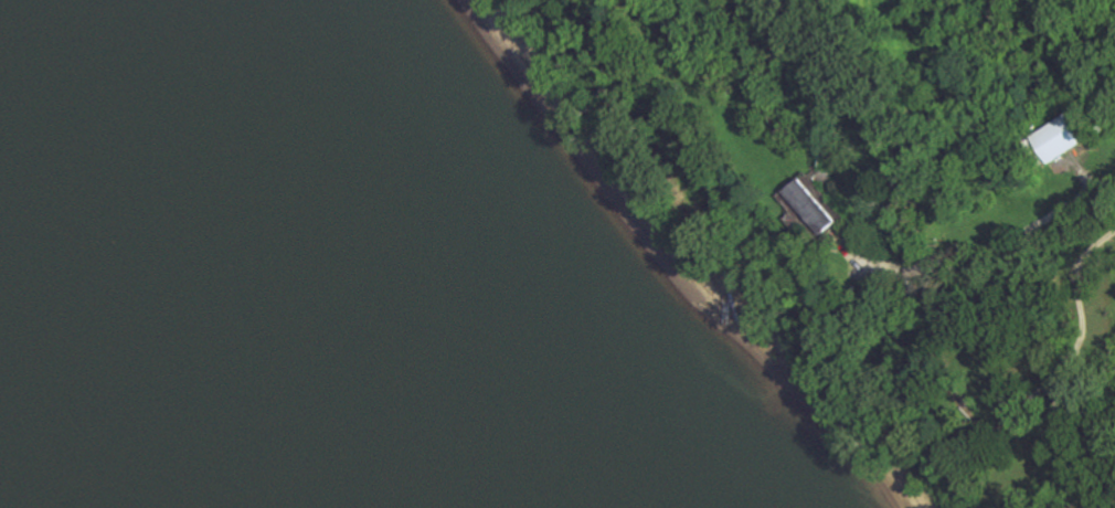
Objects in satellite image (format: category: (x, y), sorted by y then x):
building: (1056, 138)
building: (810, 207)
road: (981, 248)

